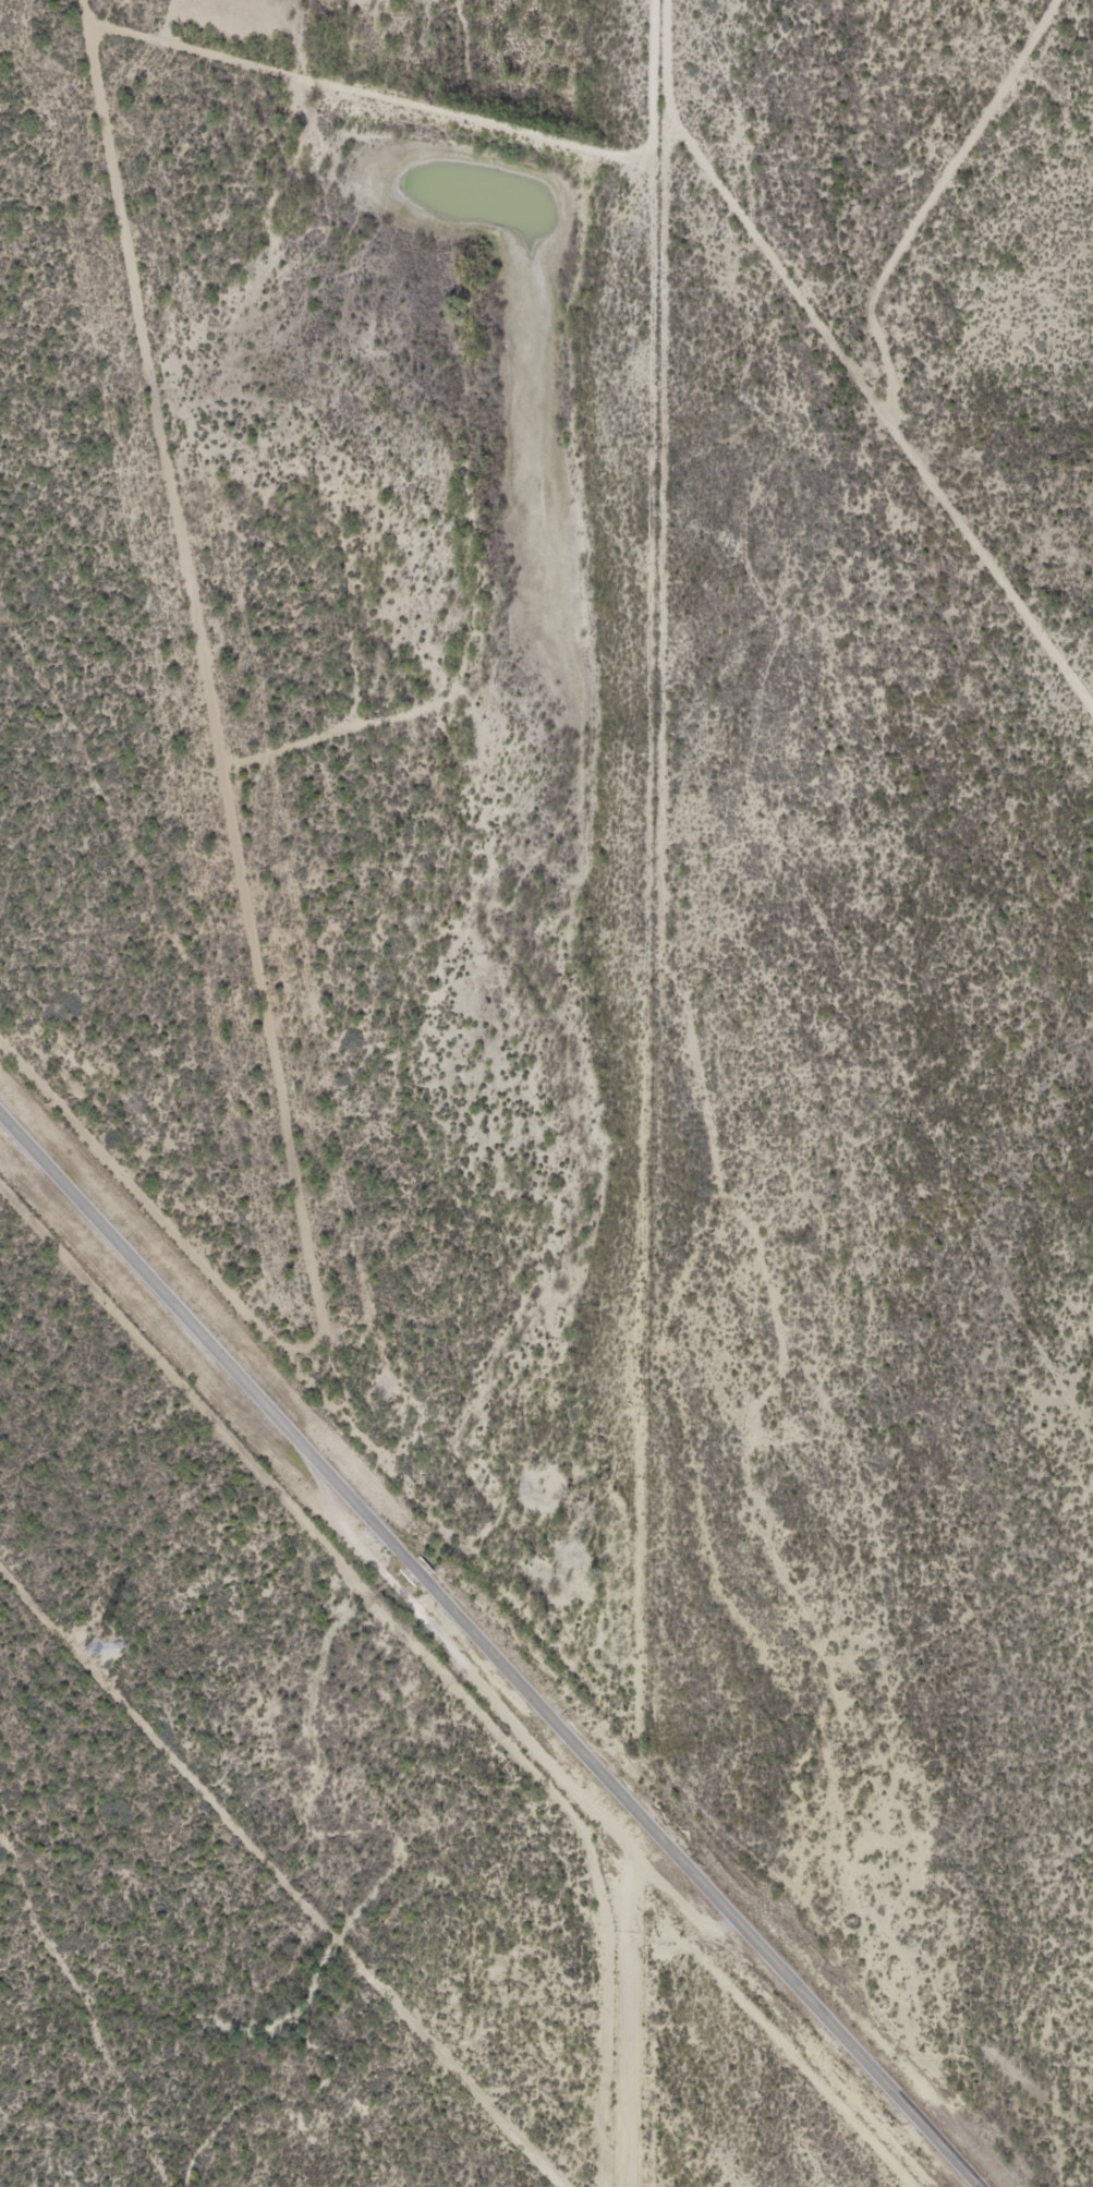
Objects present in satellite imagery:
power tower: (85, 1647)

